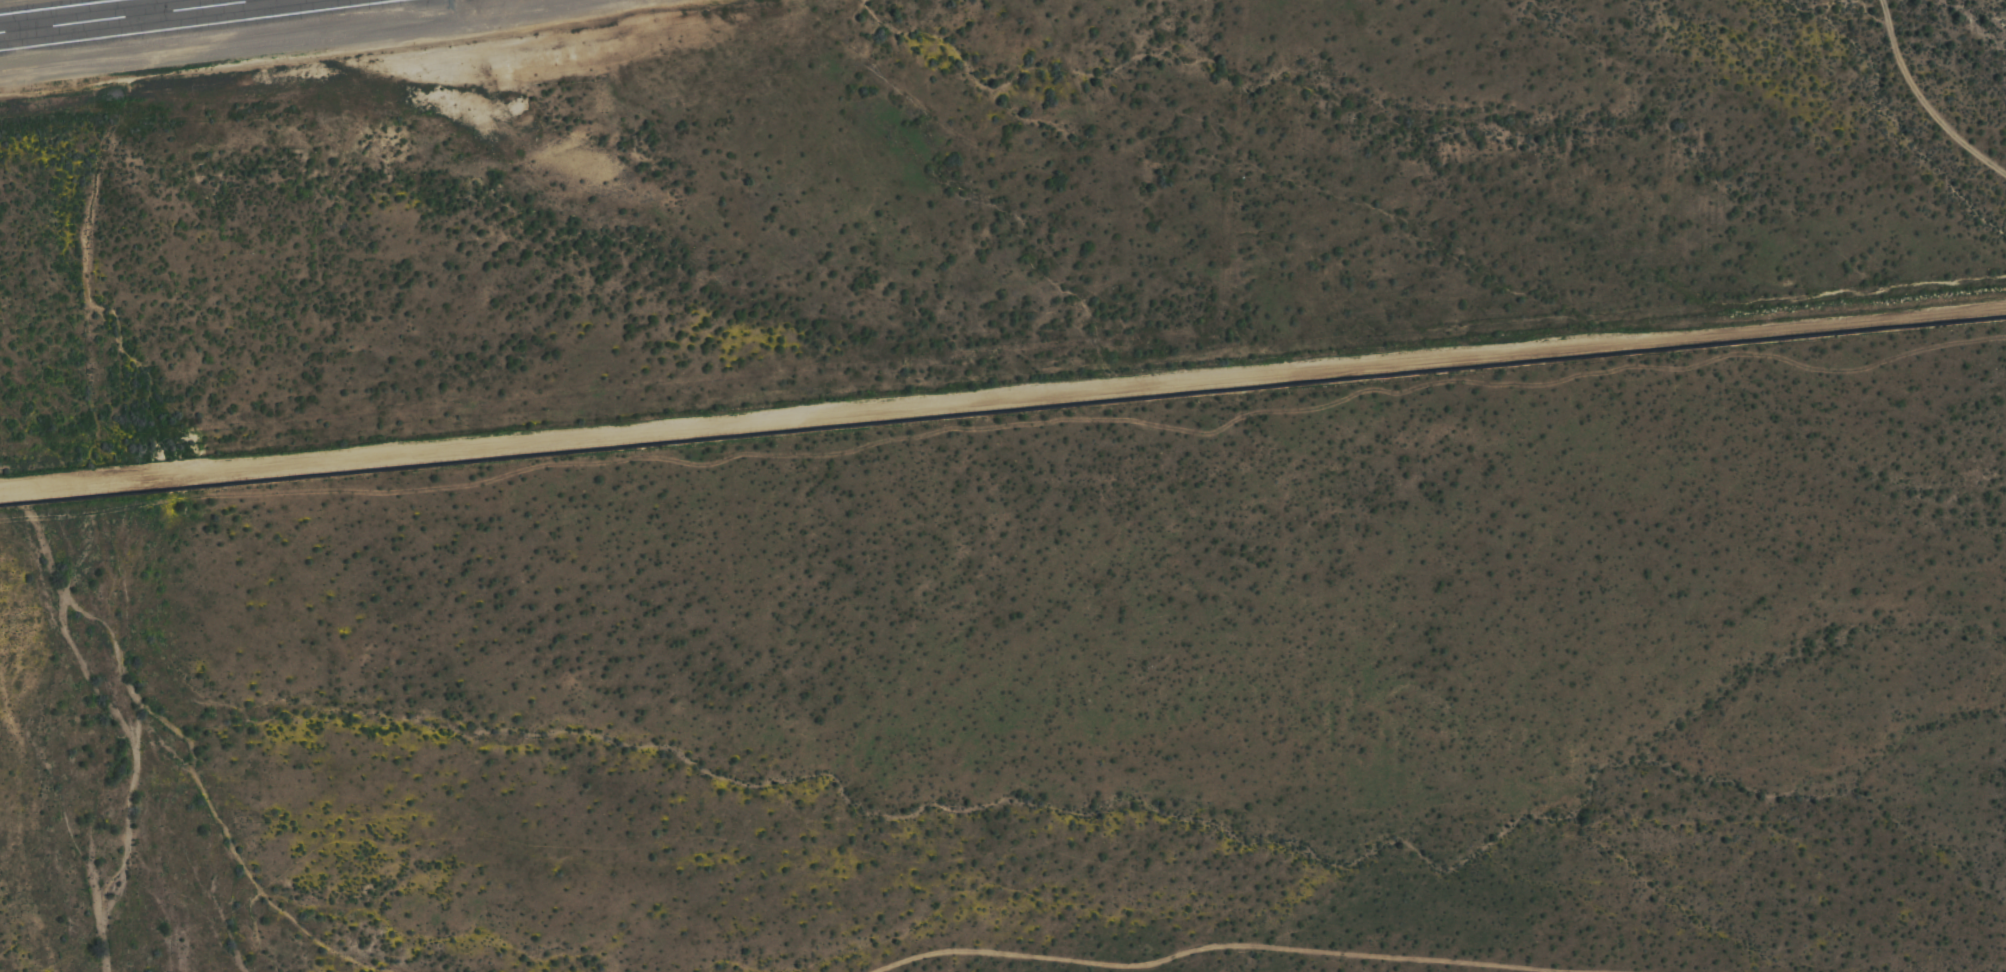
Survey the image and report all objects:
airport runway: (127, 16)
airport: (567, 217)
road: (1003, 402)

